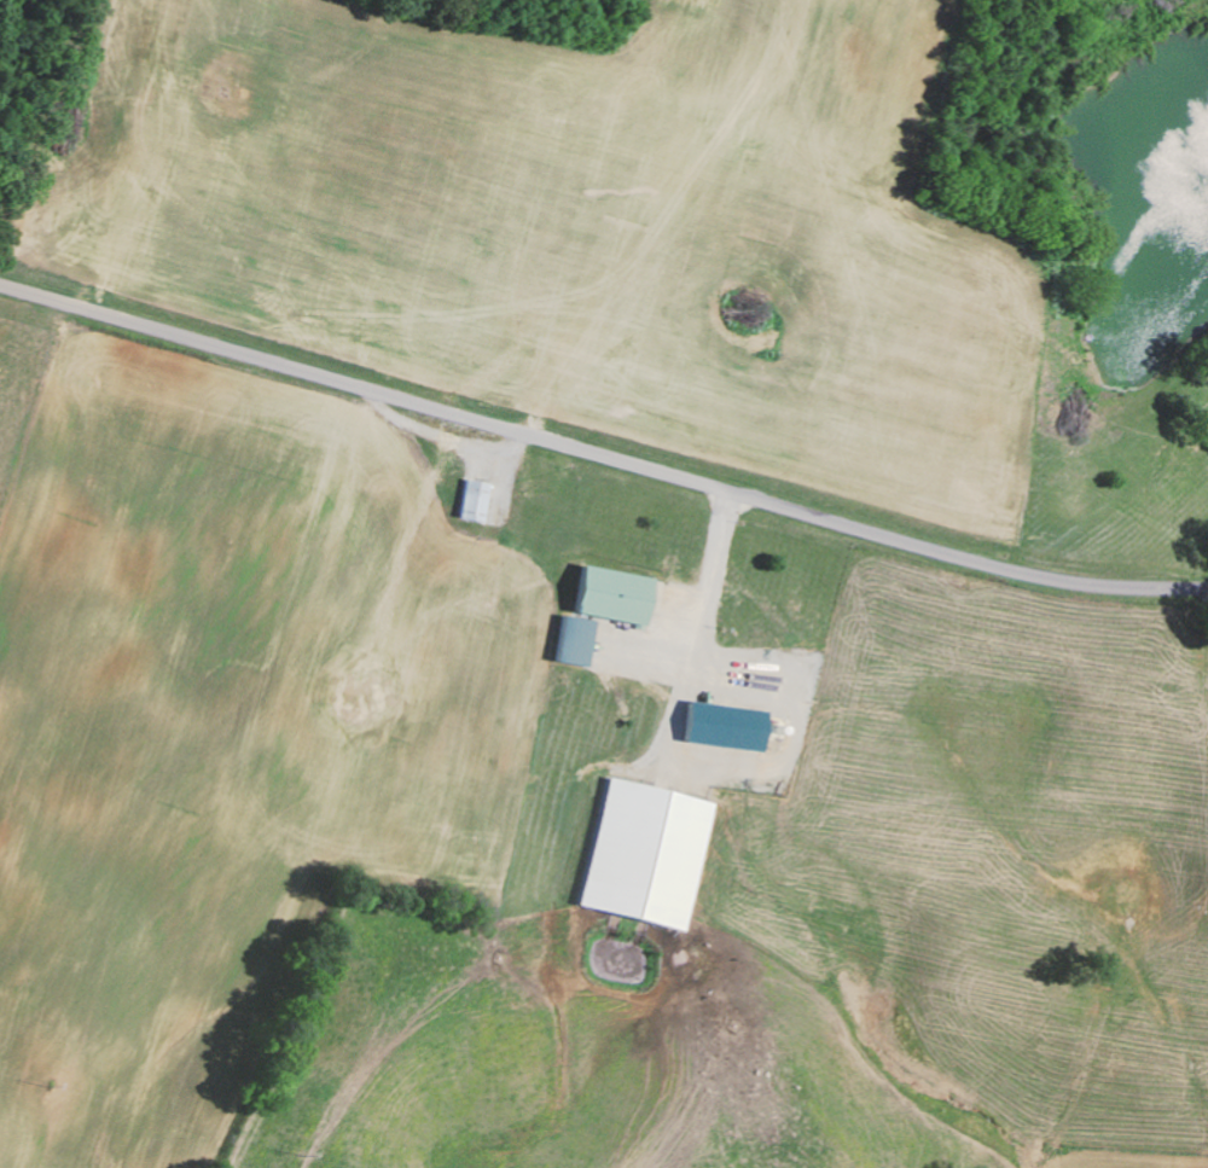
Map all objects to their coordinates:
road: (600, 452)
building: (475, 499)
building: (612, 593)
building: (574, 639)
building: (725, 725)
road: (1069, 978)

